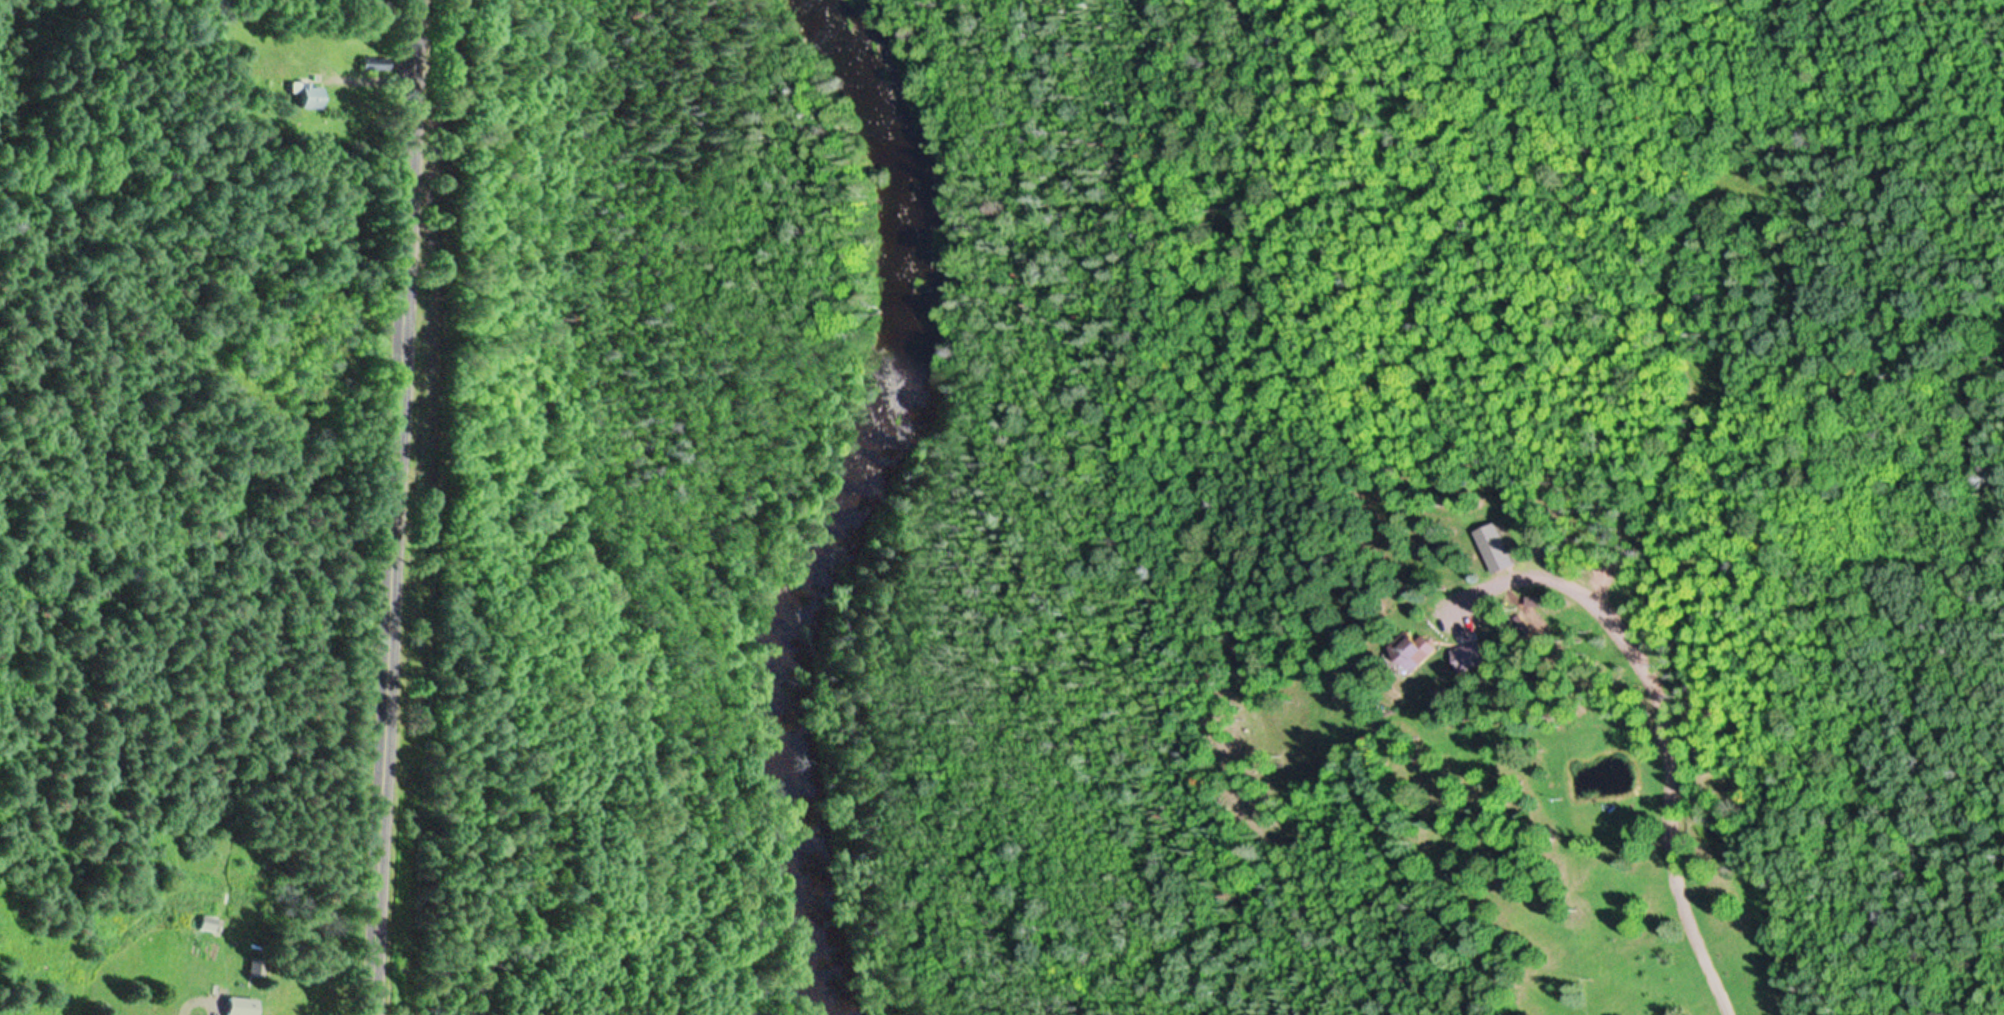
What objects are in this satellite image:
building: (306, 95)
river: (821, 504)
road: (385, 507)
building: (1493, 548)
building: (1533, 615)
building: (1411, 652)
building: (1467, 658)
building: (207, 924)
building: (255, 967)
building: (239, 1006)

